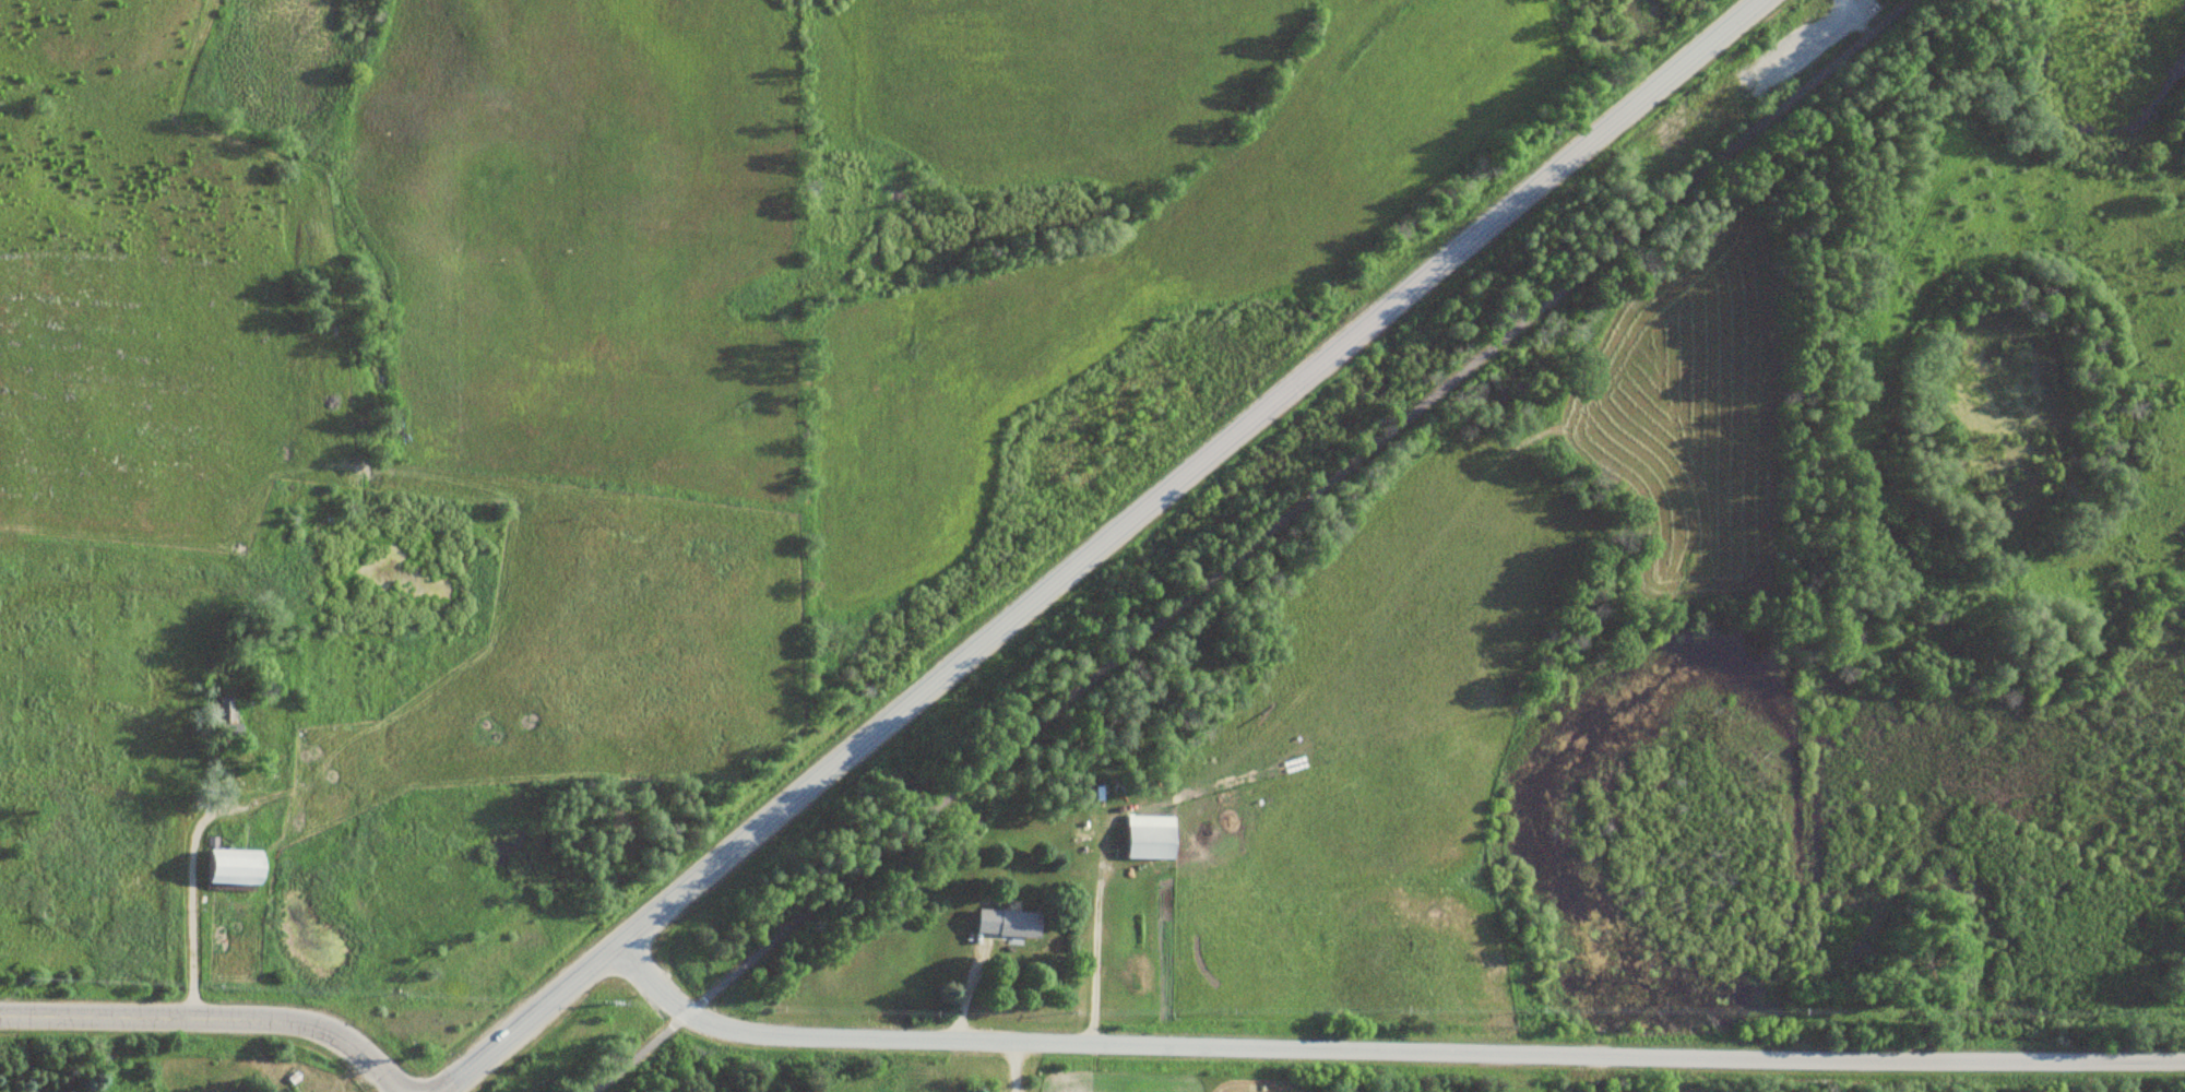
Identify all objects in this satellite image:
road: (1102, 545)
road: (1257, 546)
building: (229, 720)
building: (1152, 839)
building: (236, 868)
building: (1009, 923)
road: (211, 1017)
road: (1385, 1040)

